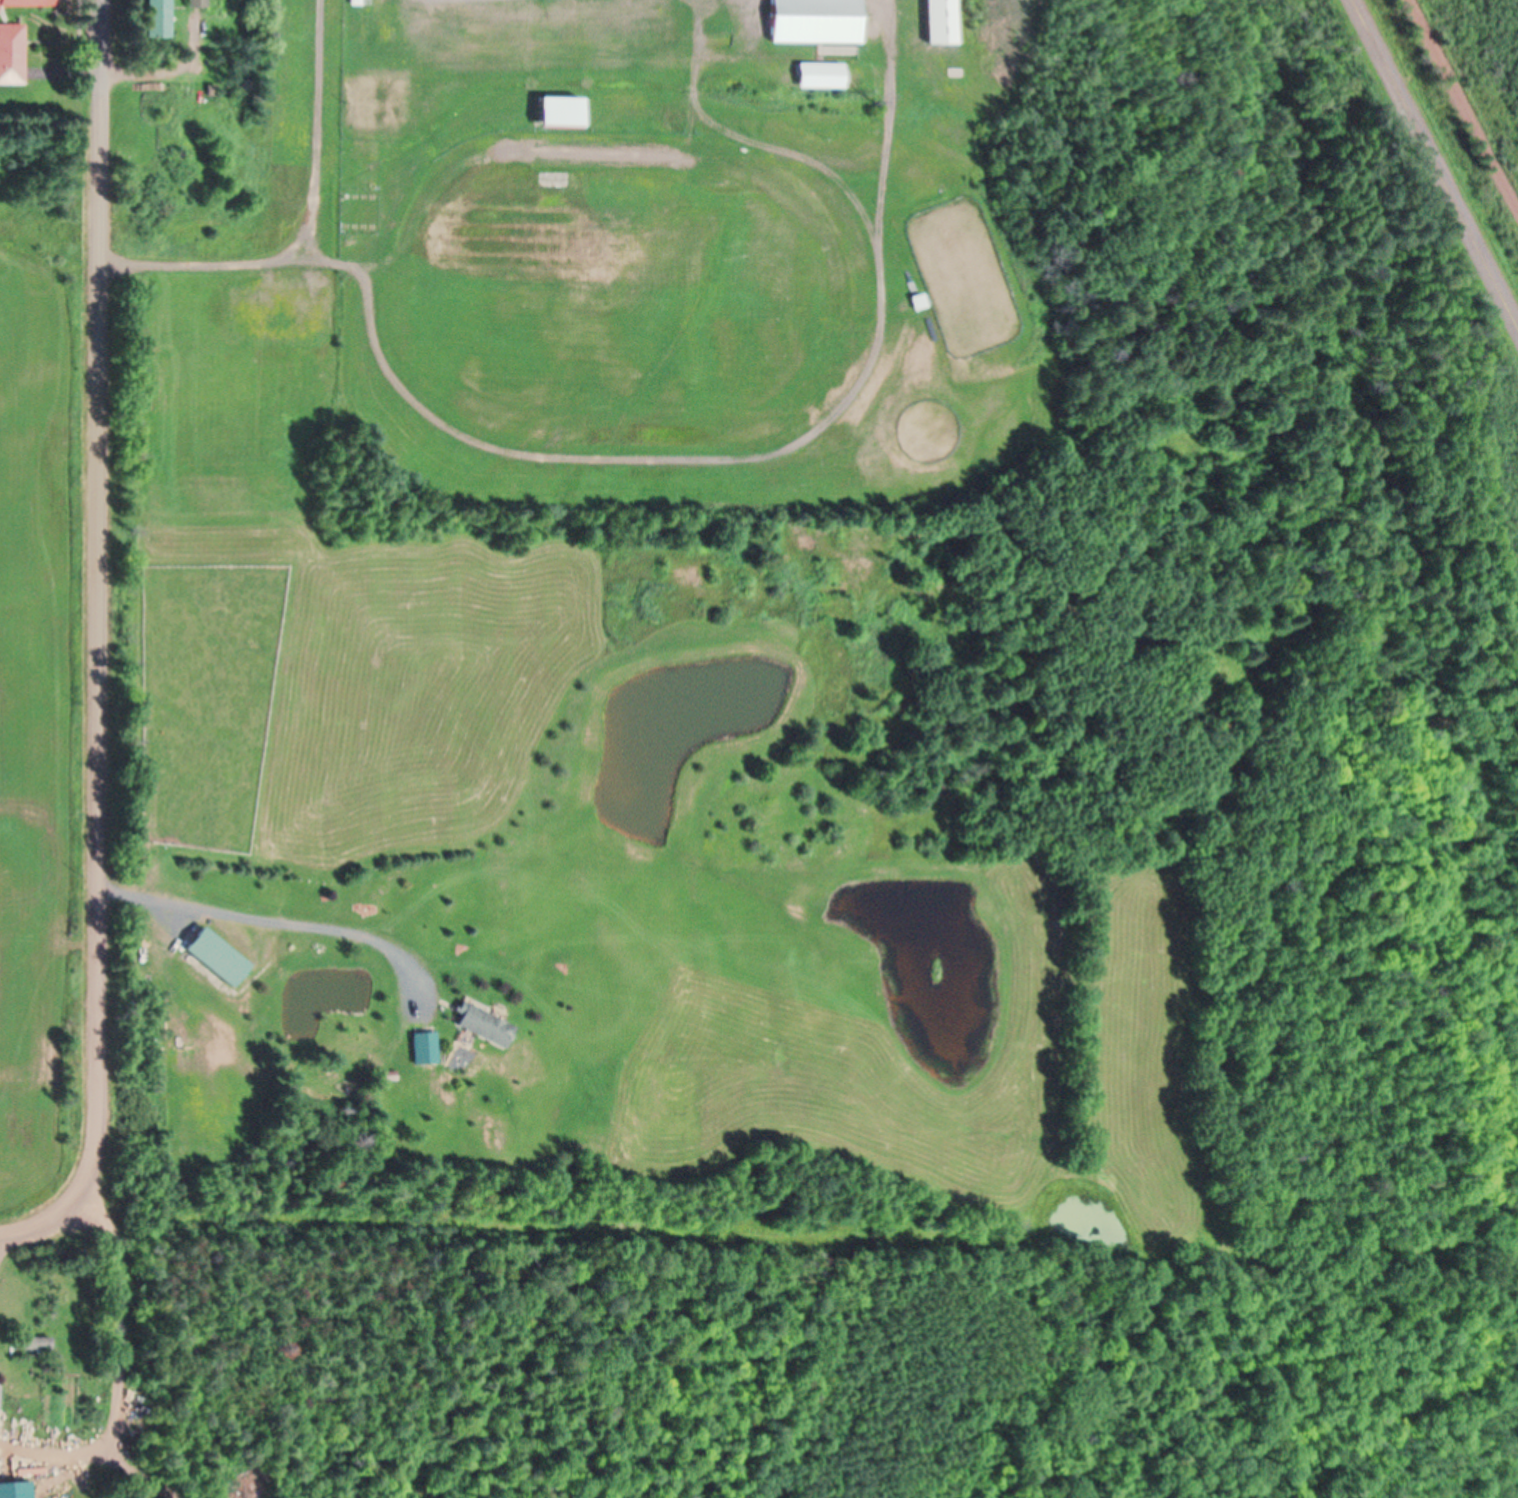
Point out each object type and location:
building: (23, 0)
building: (358, 3)
building: (199, 4)
building: (160, 20)
building: (818, 22)
road: (81, 39)
road: (102, 46)
building: (12, 53)
road: (1462, 105)
building: (564, 113)
road: (321, 133)
road: (750, 145)
road: (1433, 164)
park: (722, 270)
building: (920, 304)
road: (638, 461)
road: (99, 660)
crop: (44, 714)
building: (217, 959)
building: (484, 1027)
building: (424, 1049)
road: (32, 1233)
building: (35, 1348)

